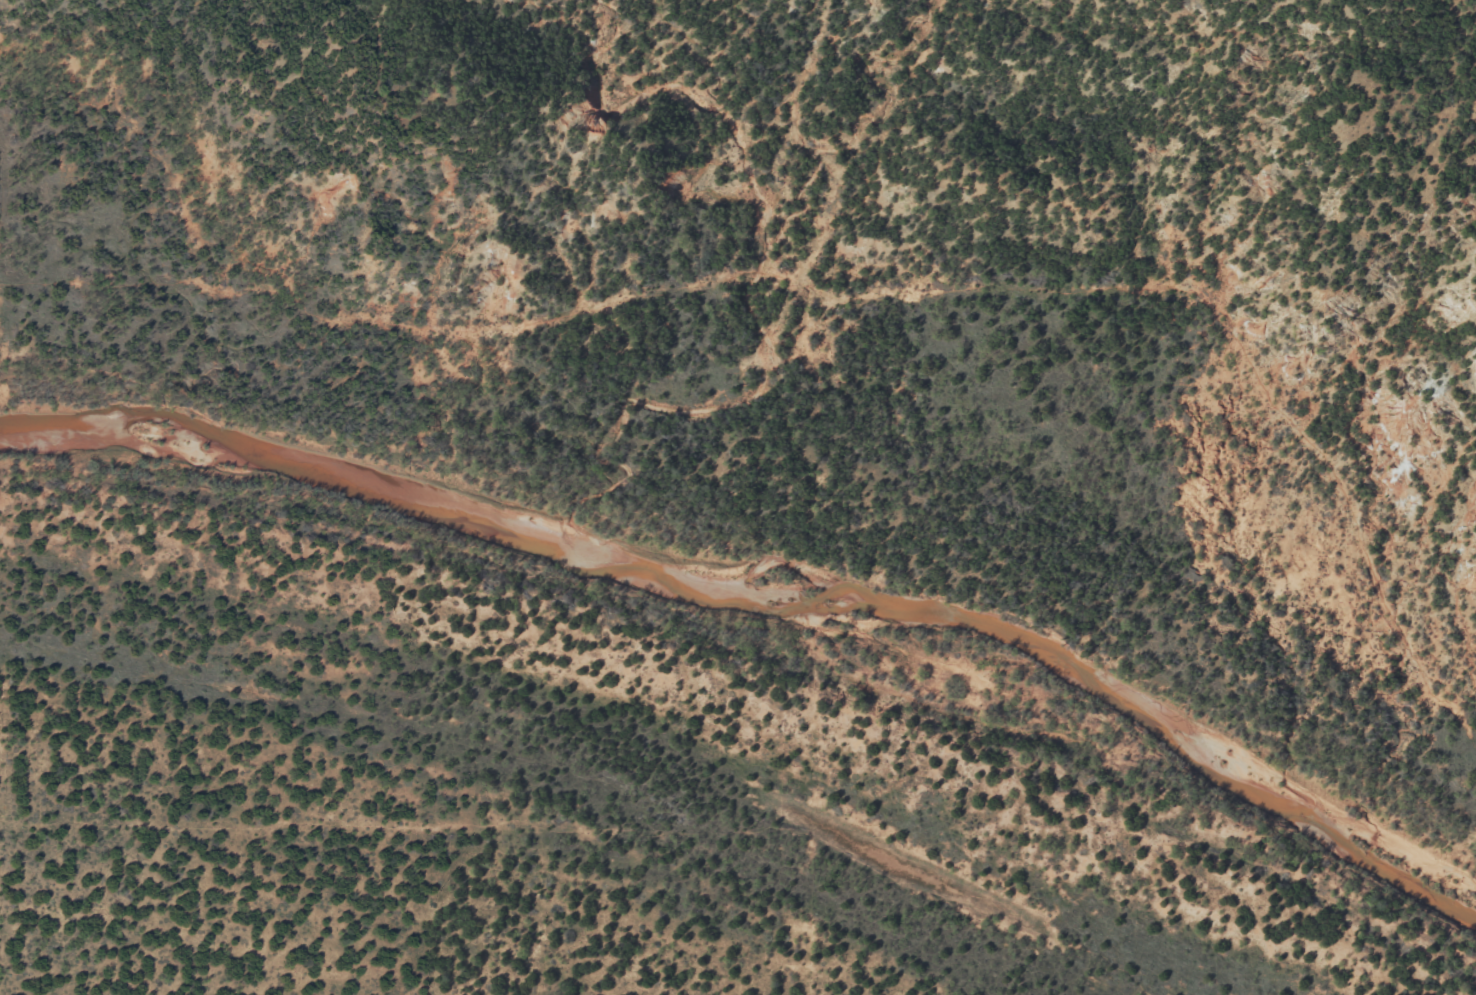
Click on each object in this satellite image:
river: (770, 580)

